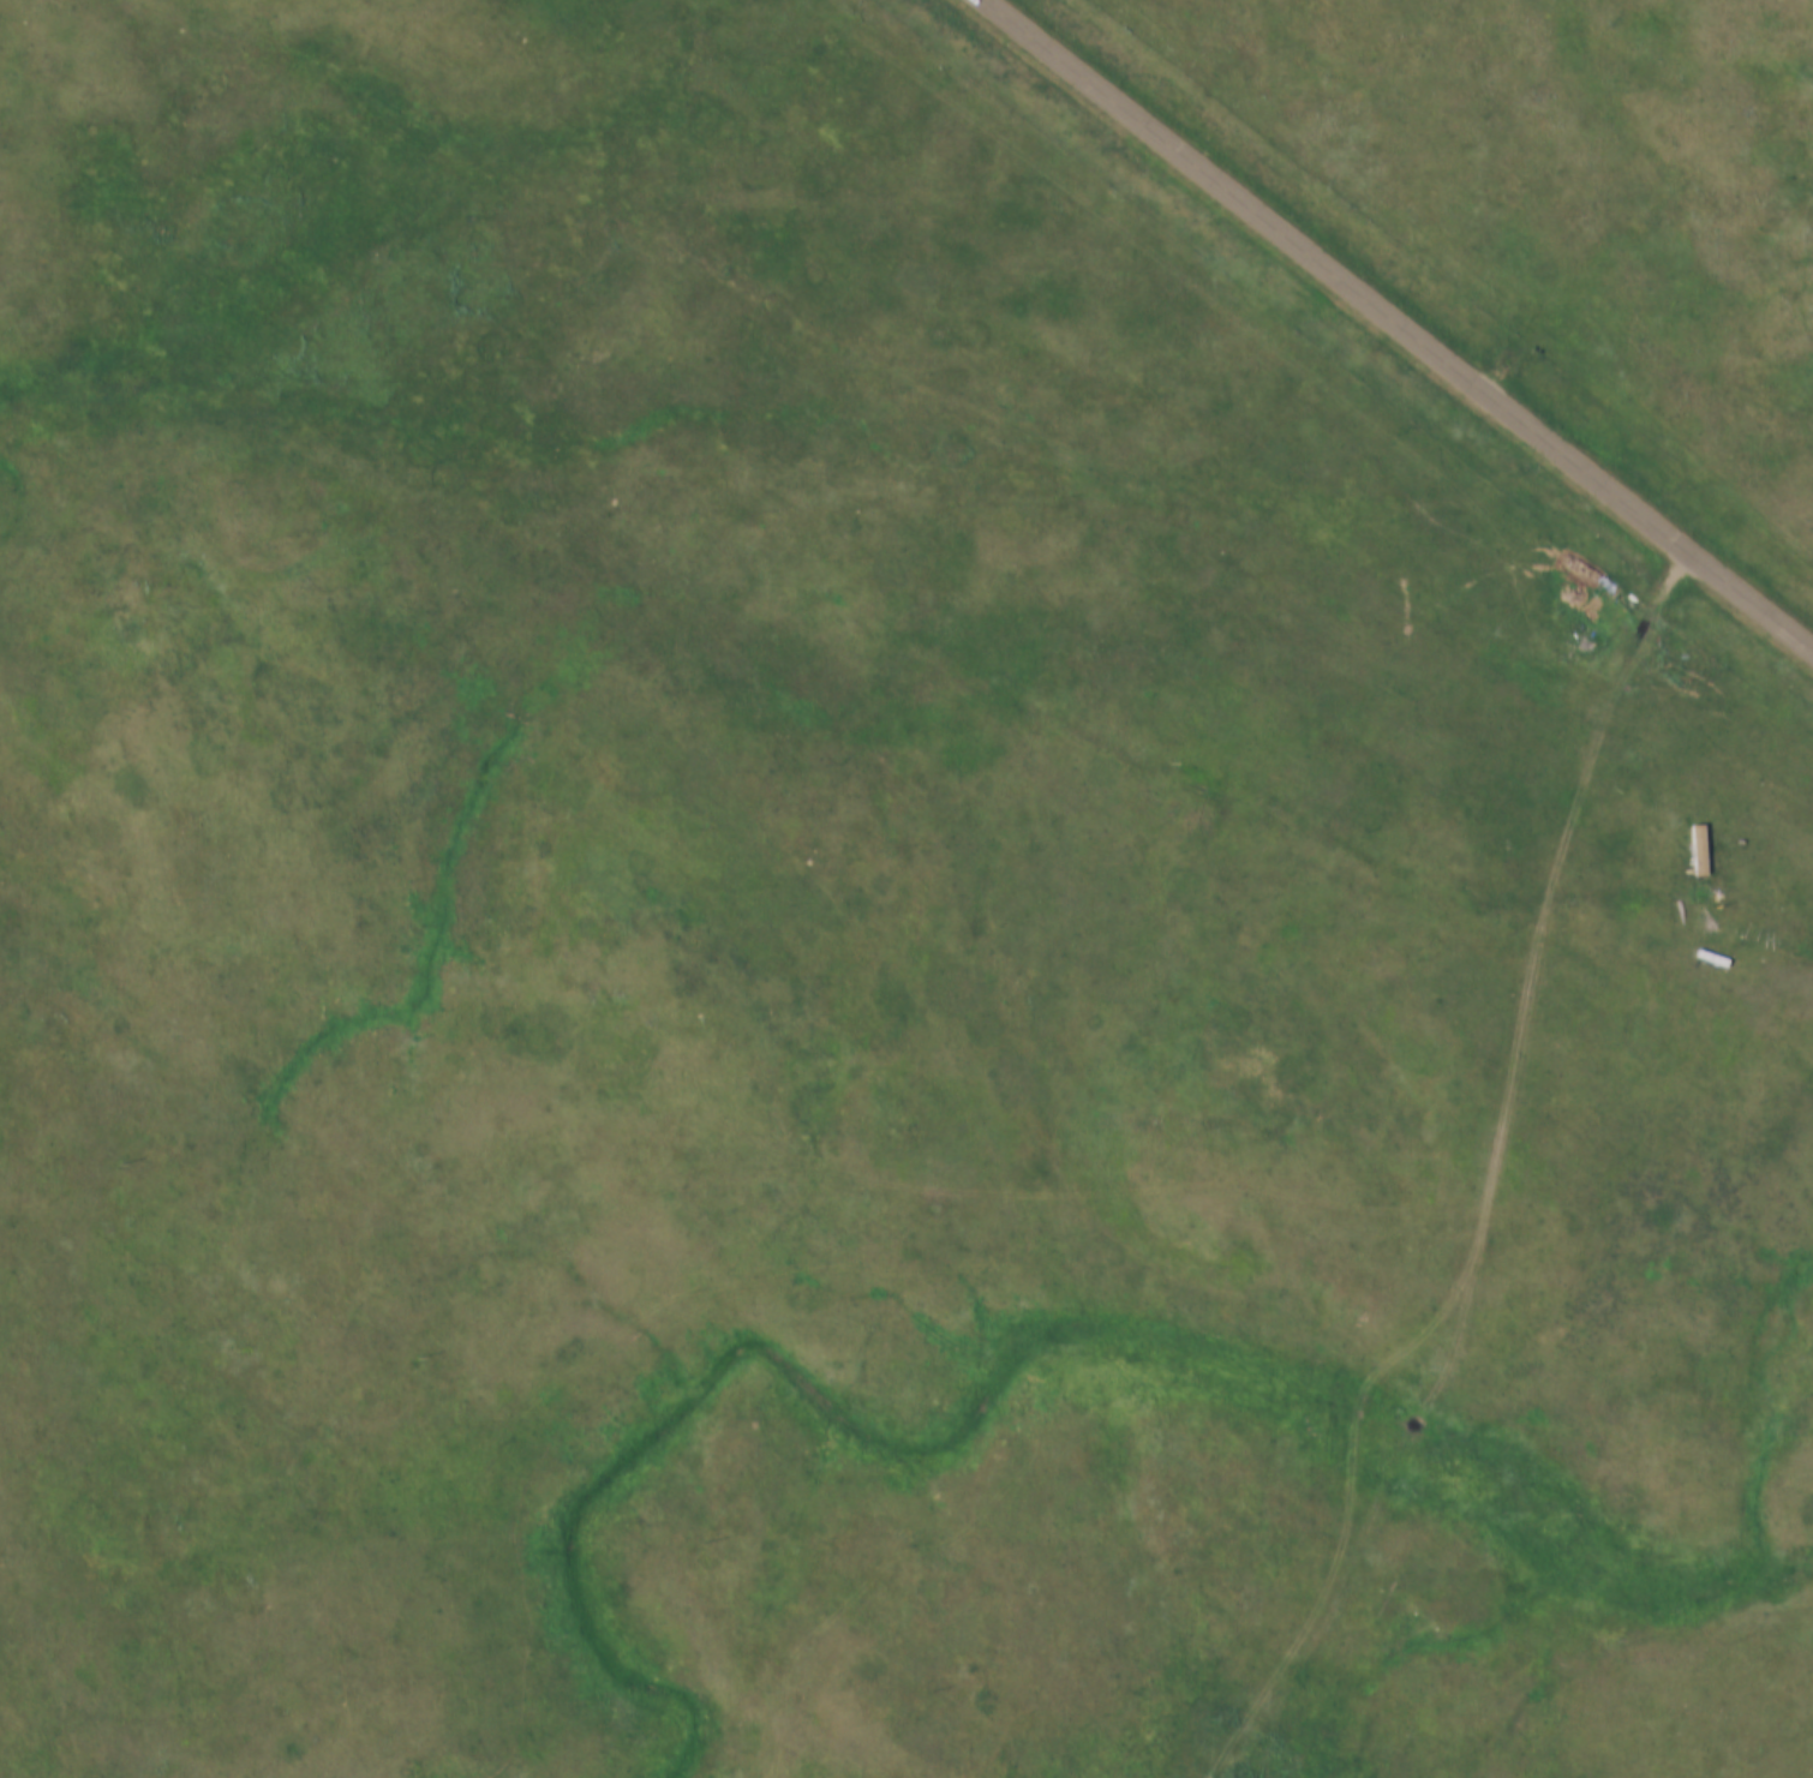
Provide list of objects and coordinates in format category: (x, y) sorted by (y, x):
road: (1401, 323)
building: (1608, 568)
building: (1562, 642)

